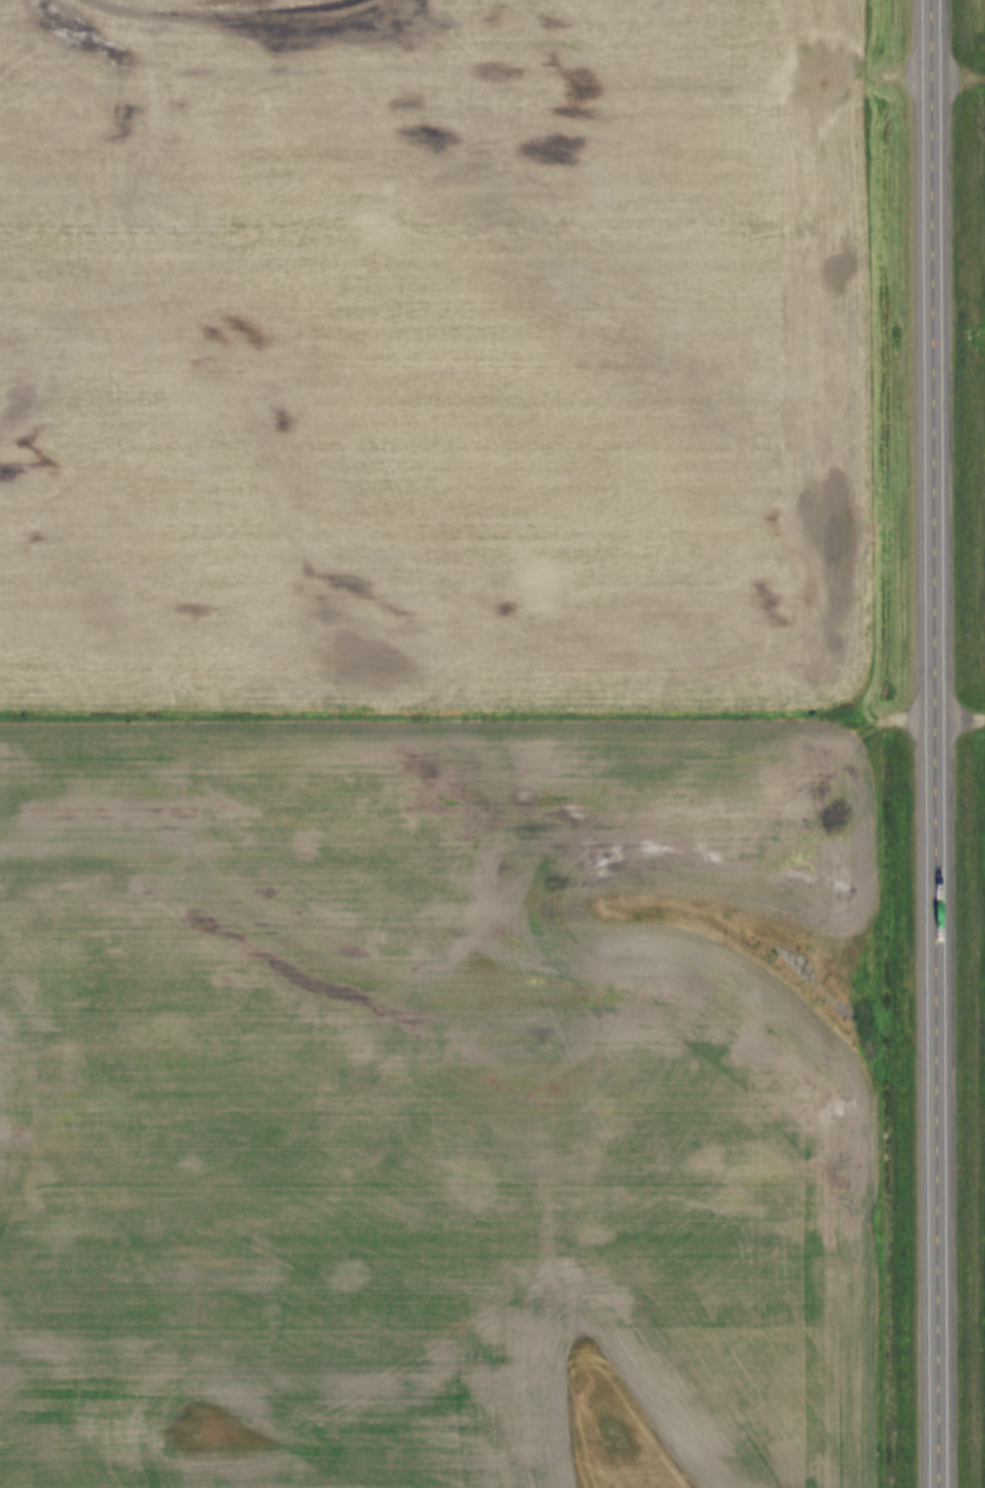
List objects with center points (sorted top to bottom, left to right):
road: (950, 744)

